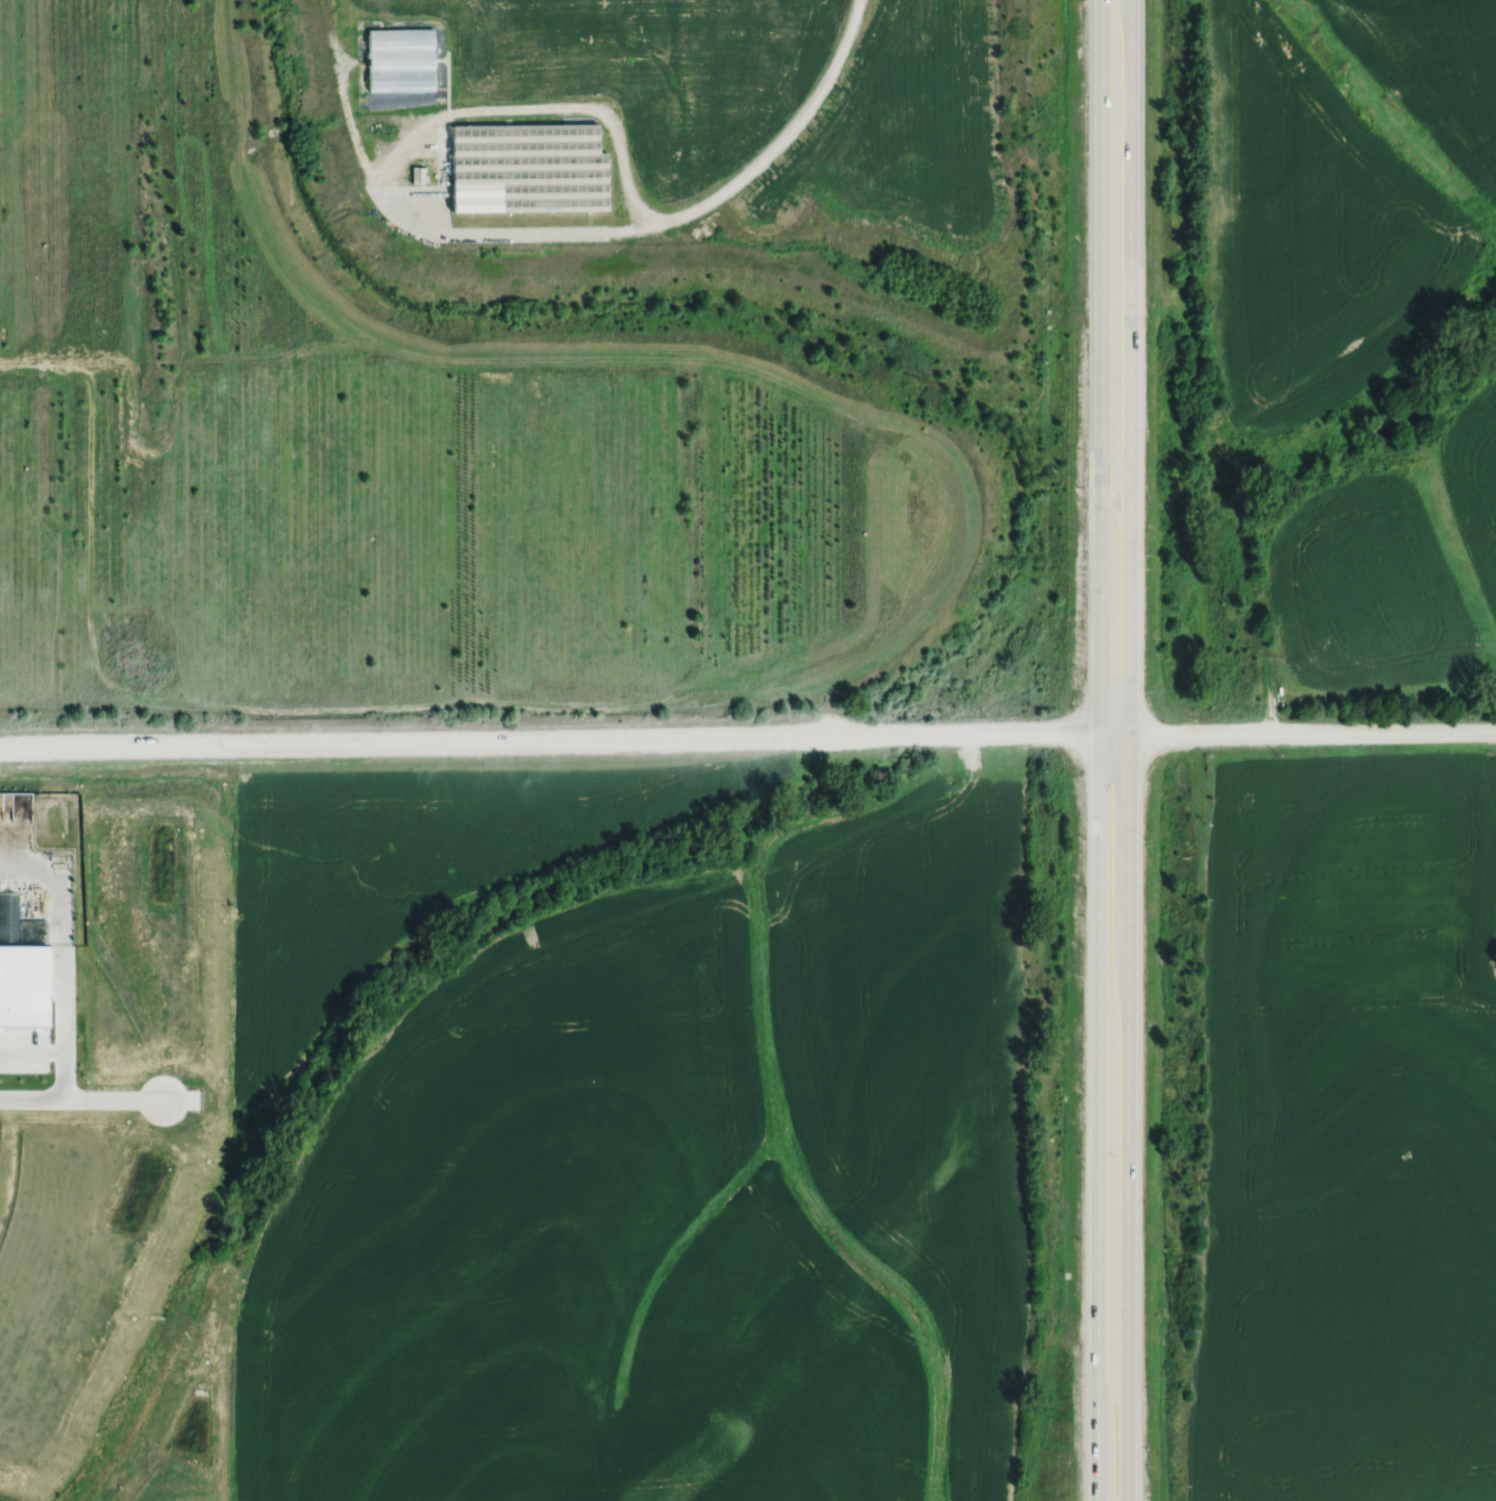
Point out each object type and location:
building: (399, 57)
road: (780, 138)
road: (406, 140)
building: (527, 166)
road: (1297, 732)
road: (550, 739)
road: (1099, 750)
road: (1128, 750)
road: (83, 1096)

